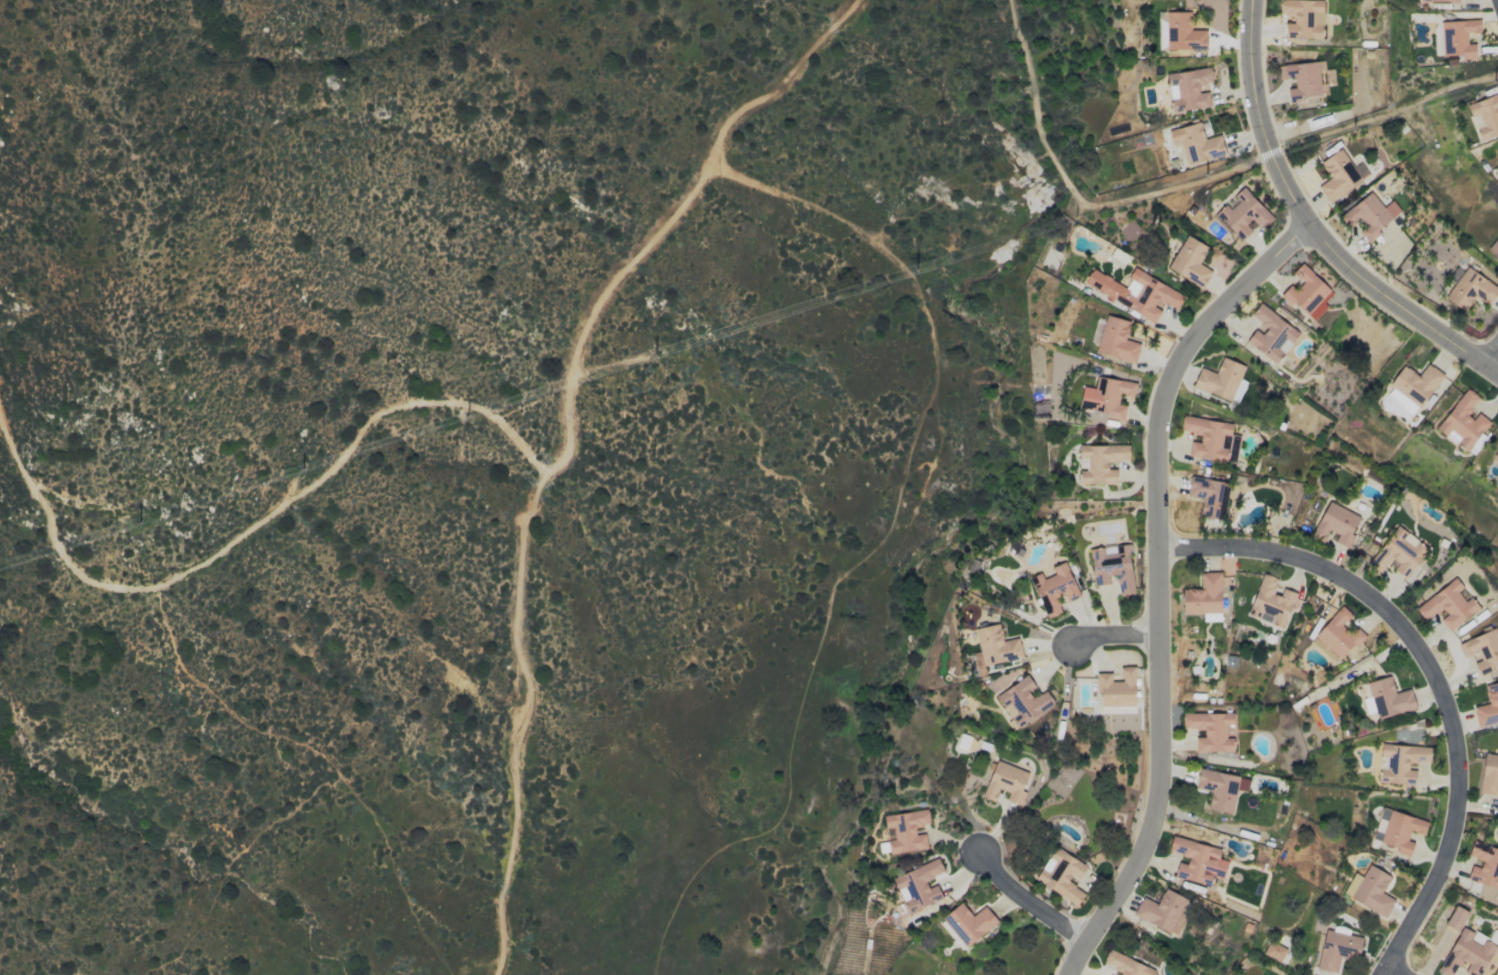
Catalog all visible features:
building: (1439, 0)
building: (1301, 18)
building: (1182, 32)
building: (1459, 37)
building: (1306, 79)
building: (1188, 89)
road: (1384, 112)
building: (1486, 115)
building: (1196, 143)
building: (1337, 175)
road: (1077, 196)
building: (1242, 213)
building: (1369, 215)
road: (1308, 227)
building: (1494, 247)
building: (1190, 261)
building: (1471, 290)
building: (1135, 292)
building: (1306, 293)
building: (1270, 334)
building: (1116, 339)
road: (576, 357)
road: (1491, 357)
building: (1219, 379)
building: (1414, 385)
building: (1239, 388)
building: (1107, 396)
building: (1462, 421)
building: (1211, 439)
building: (1496, 457)
building: (1100, 462)
building: (1209, 495)
building: (1335, 523)
road: (233, 544)
building: (1398, 553)
building: (1112, 568)
road: (1158, 584)
building: (1054, 588)
building: (1203, 595)
building: (1272, 602)
building: (1448, 605)
building: (1211, 617)
building: (1339, 633)
road: (1117, 635)
building: (994, 647)
building: (1482, 649)
road: (1434, 674)
building: (1116, 688)
building: (1389, 698)
building: (1023, 701)
building: (1488, 705)
building: (1210, 730)
building: (1401, 762)
building: (1489, 774)
building: (1006, 781)
building: (1221, 788)
building: (906, 830)
building: (1397, 830)
building: (1197, 861)
building: (1484, 865)
building: (1061, 874)
building: (918, 885)
building: (1370, 890)
road: (1030, 903)
building: (1163, 911)
building: (1456, 918)
building: (968, 923)
building: (1337, 948)
building: (1274, 951)
building: (1469, 953)
building: (1126, 964)
road: (1390, 972)
building: (1109, 974)

